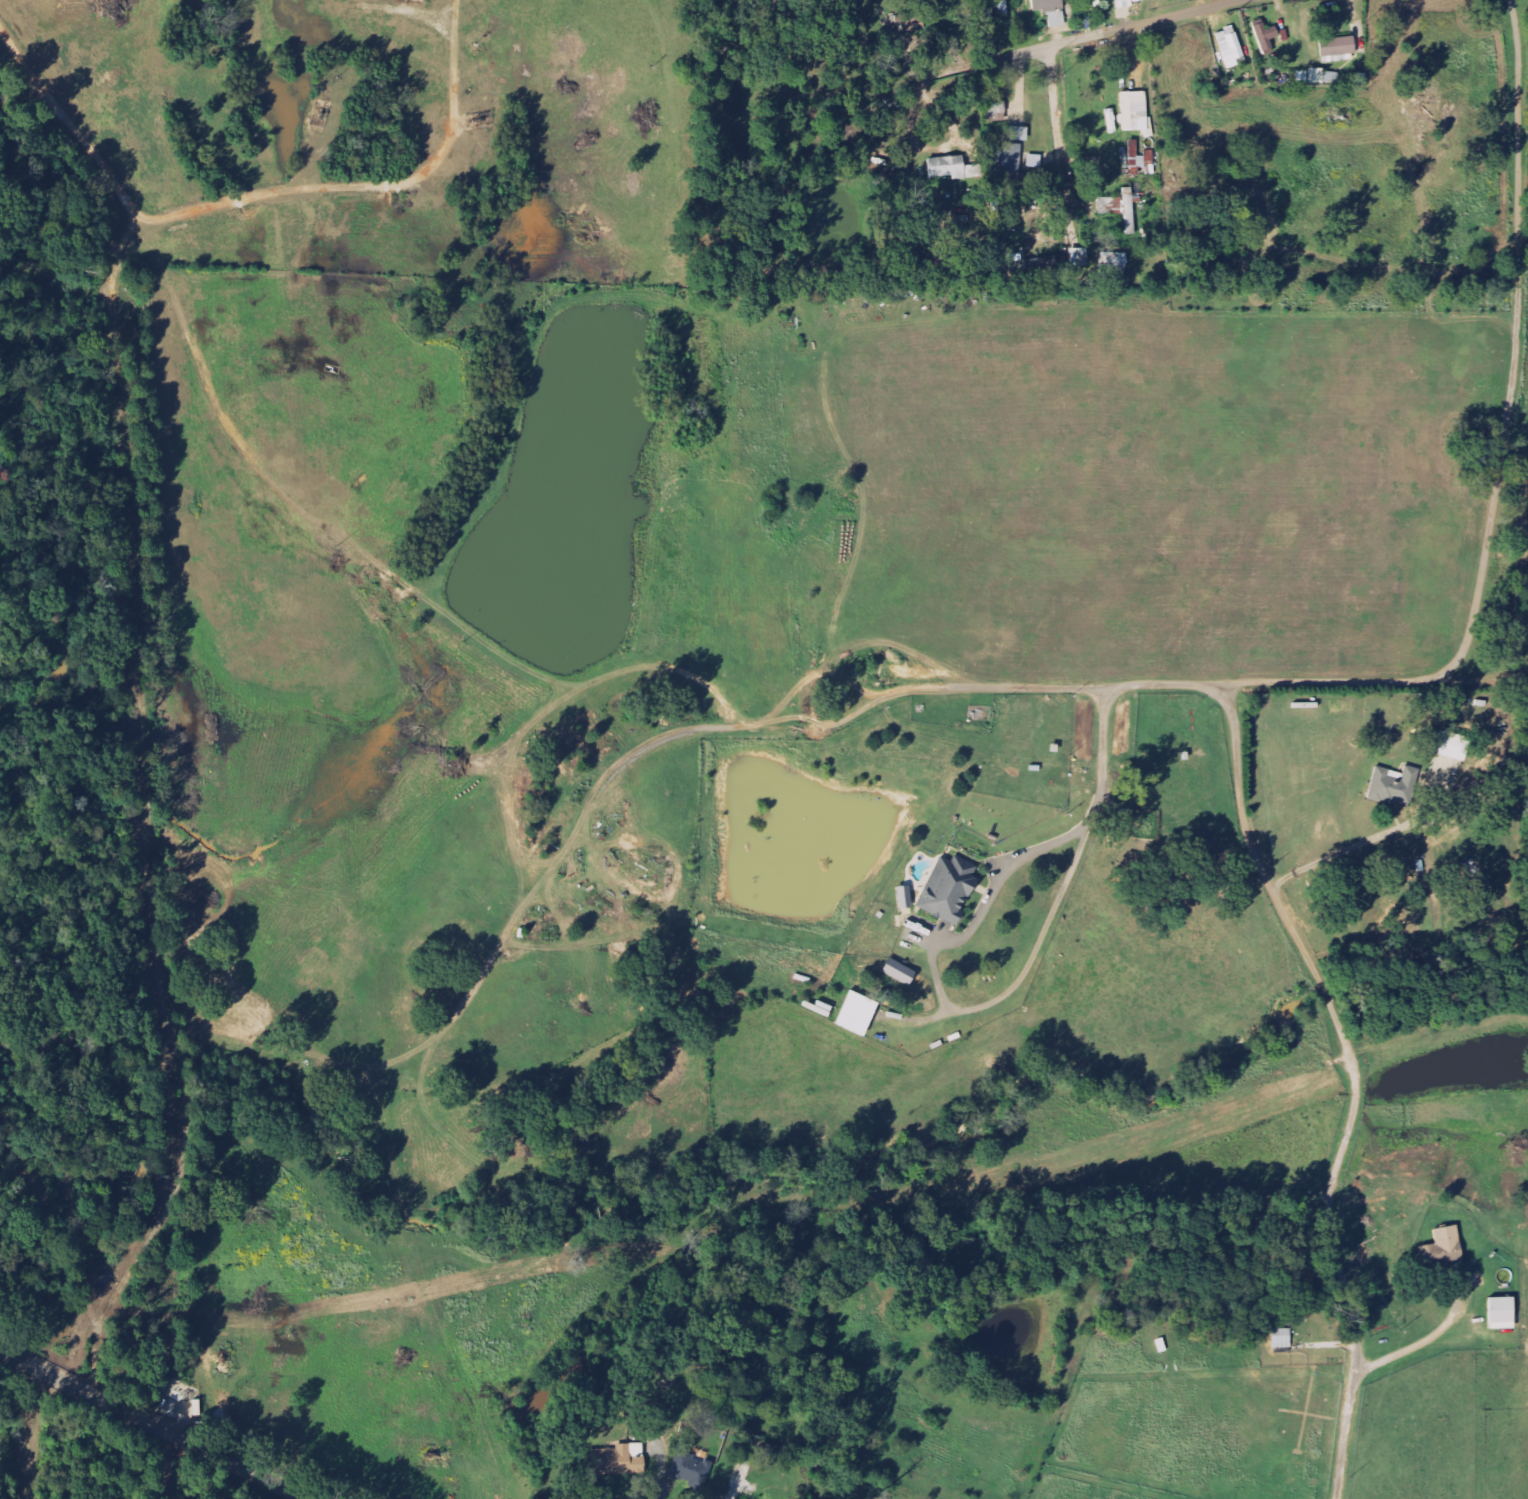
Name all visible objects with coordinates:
building: (1096, 3)
building: (1127, 4)
building: (1001, 6)
building: (1052, 11)
building: (1267, 37)
road: (1078, 40)
building: (1231, 45)
building: (1339, 50)
building: (1315, 77)
building: (997, 112)
building: (1135, 112)
road: (1059, 133)
building: (1008, 158)
building: (952, 169)
building: (1120, 208)
building: (1028, 264)
building: (1114, 269)
road: (1240, 685)
building: (1394, 786)
building: (950, 890)
building: (906, 897)
building: (901, 972)
building: (859, 1014)
building: (1445, 1249)
building: (1504, 1314)
building: (1282, 1338)
road: (149, 1425)
building: (619, 1460)
road: (161, 1467)
building: (693, 1468)

